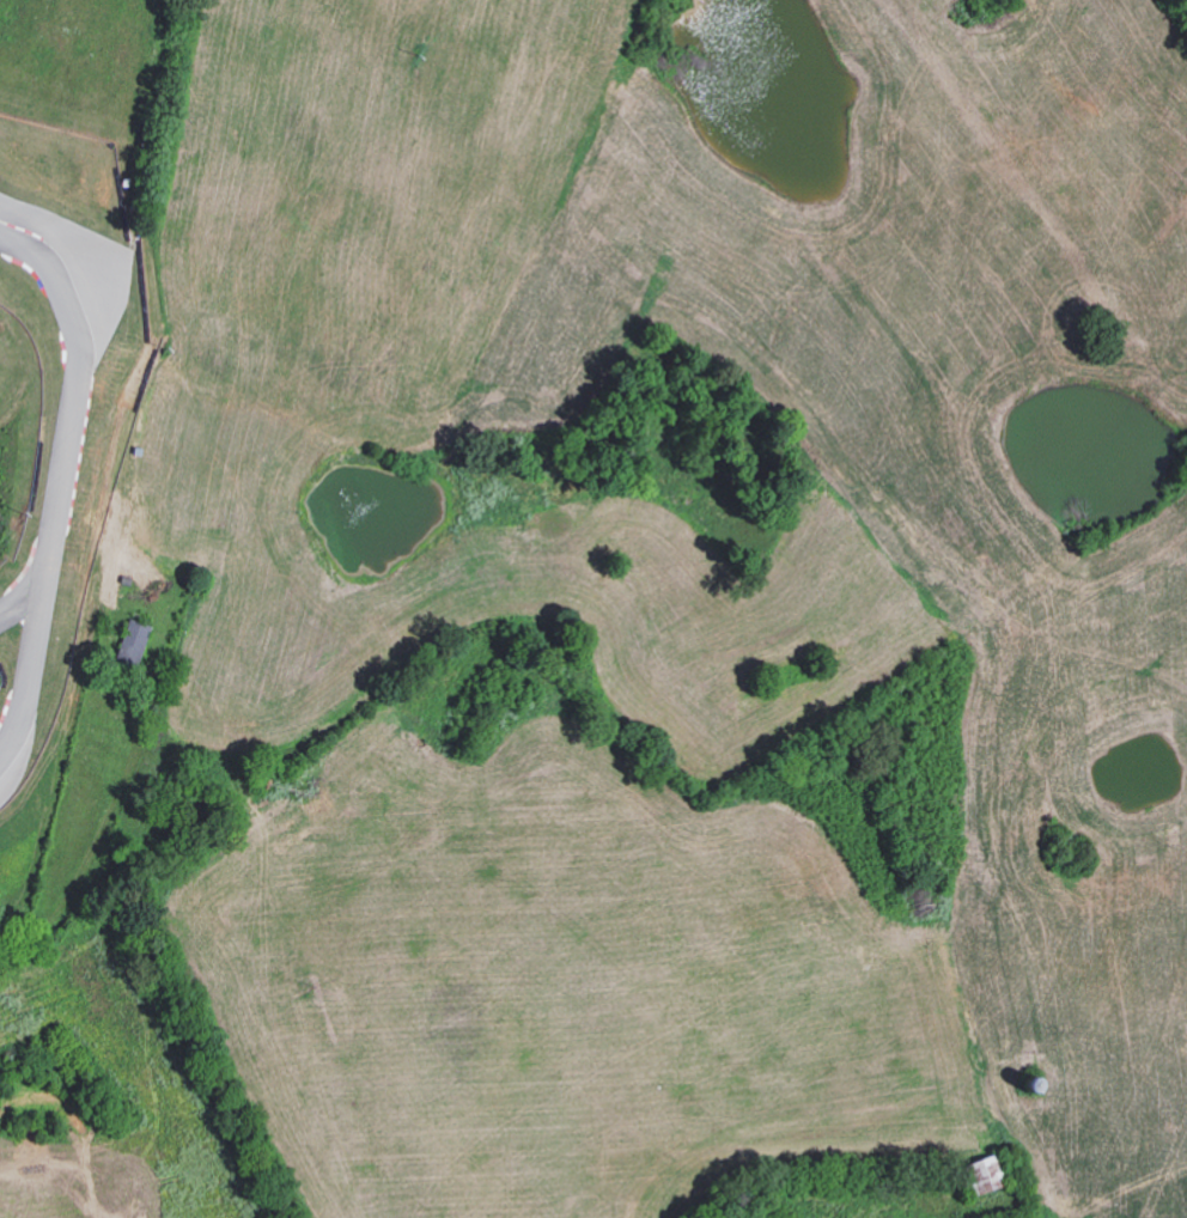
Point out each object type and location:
raceway: (55, 481)
raceway: (18, 599)
building: (130, 643)
building: (982, 1175)

